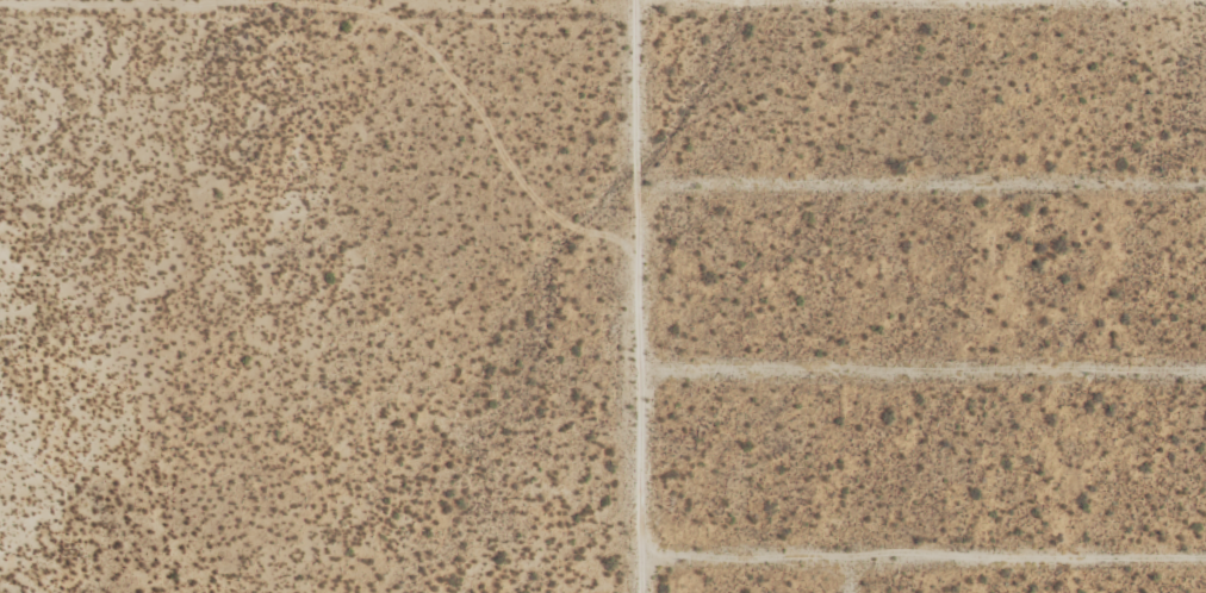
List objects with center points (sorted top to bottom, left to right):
road: (603, 18)
road: (920, 187)
road: (636, 296)
road: (921, 370)
road: (922, 563)
road: (853, 578)

